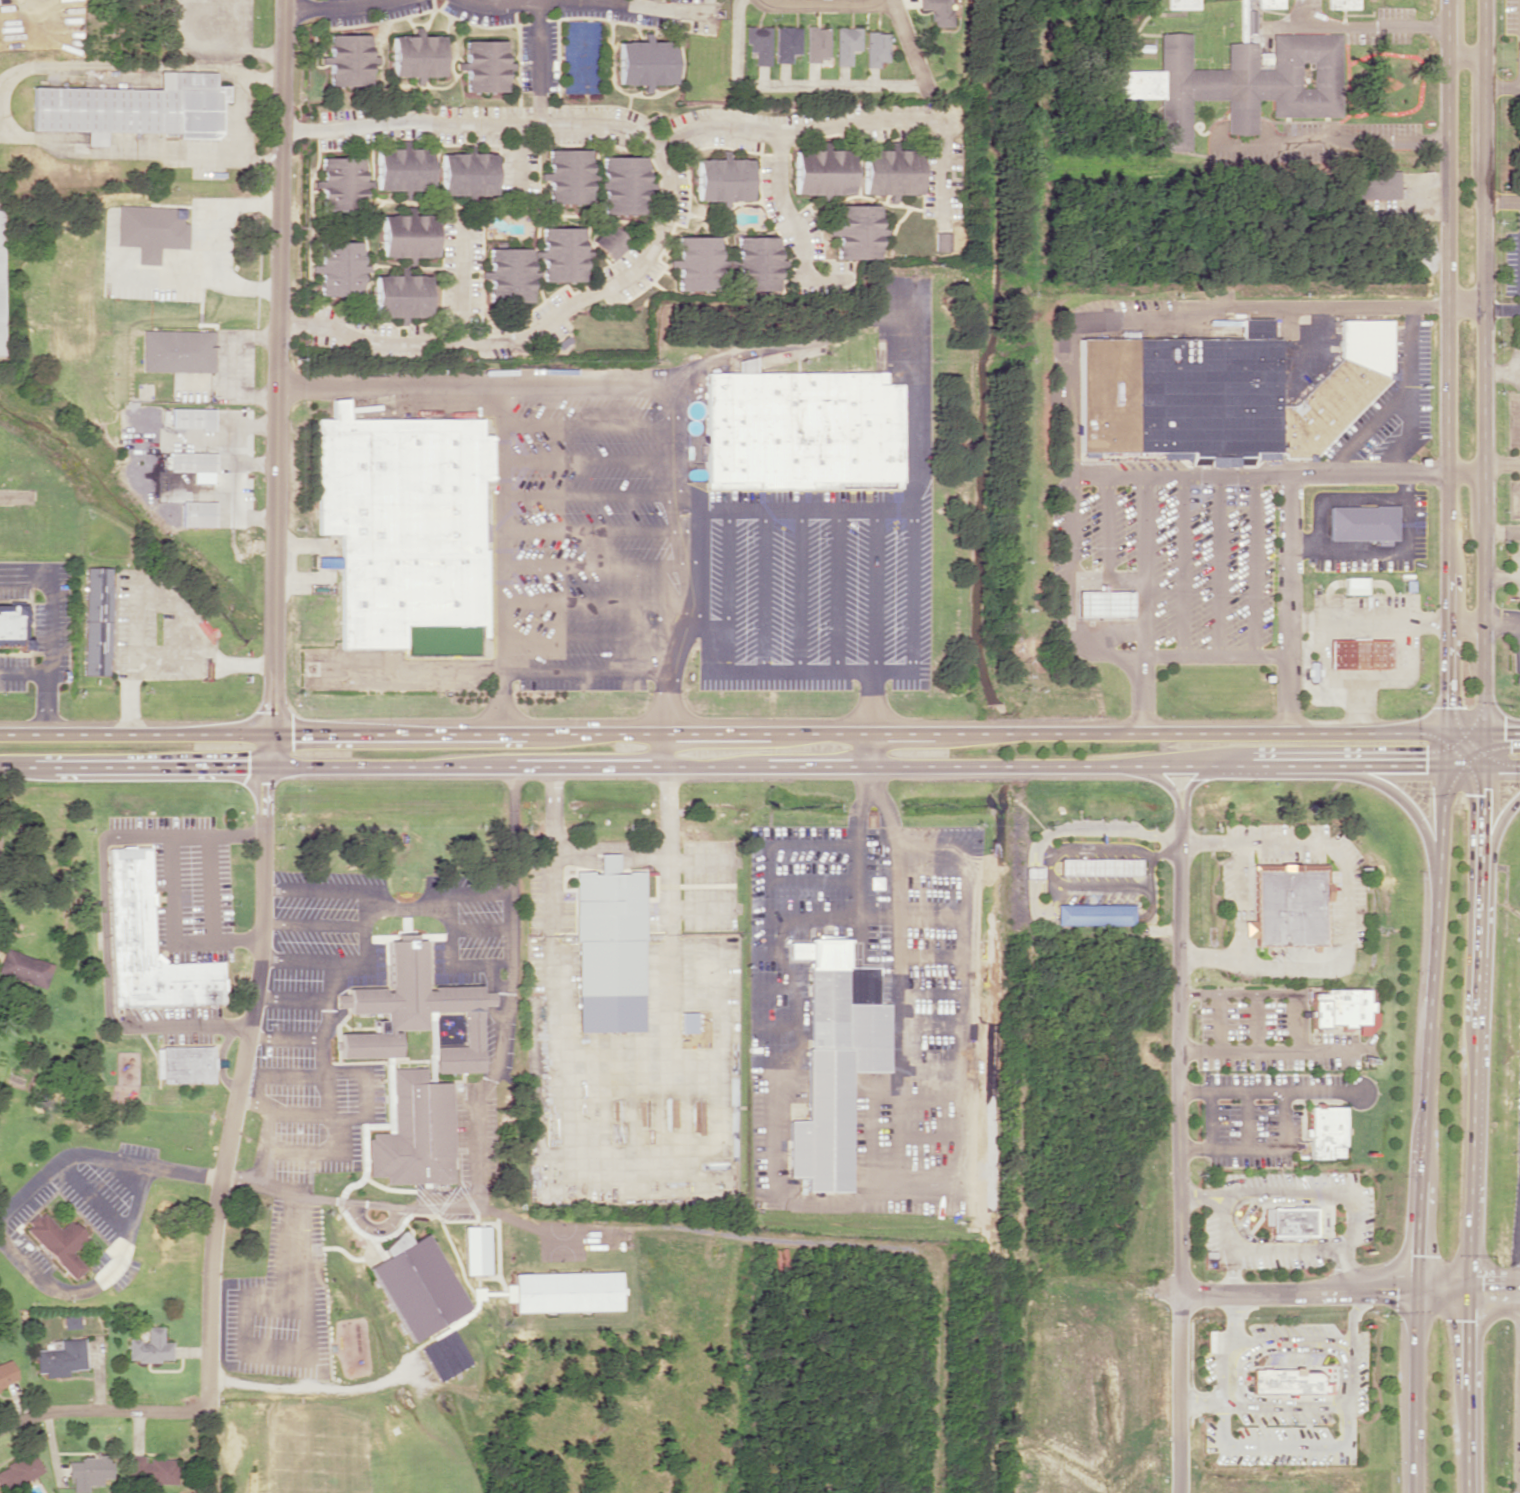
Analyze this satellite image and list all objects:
road: (888, 0)
road: (625, 1)
road: (823, 2)
road: (497, 3)
building: (1270, 4)
building: (1183, 6)
building: (1344, 6)
road: (332, 8)
building: (936, 11)
parking lot: (1511, 16)
building: (785, 42)
building: (758, 43)
building: (816, 44)
building: (845, 44)
building: (874, 47)
road: (908, 49)
road: (1464, 54)
building: (417, 55)
building: (349, 59)
road: (540, 63)
building: (645, 63)
building: (484, 65)
road: (786, 86)
road: (1502, 86)
building: (1235, 87)
building: (134, 107)
road: (849, 121)
parking lot: (1519, 157)
building: (403, 169)
building: (822, 171)
building: (890, 171)
building: (467, 173)
building: (568, 175)
building: (723, 178)
building: (341, 183)
building: (623, 184)
building: (1382, 184)
road: (1502, 200)
road: (668, 209)
road: (797, 229)
building: (150, 230)
building: (857, 231)
building: (408, 234)
building: (940, 241)
building: (610, 242)
building: (561, 253)
building: (758, 261)
parking lot: (1512, 262)
building: (697, 263)
building: (339, 268)
building: (508, 274)
road: (459, 276)
building: (3, 287)
building: (401, 295)
road: (1178, 307)
road: (1465, 308)
road: (1502, 309)
parking lot: (1518, 331)
park: (608, 332)
road: (803, 343)
building: (178, 350)
building: (745, 364)
road: (1446, 366)
road: (1484, 366)
road: (277, 383)
road: (486, 386)
road: (1410, 392)
building: (1216, 395)
building: (192, 417)
road: (599, 424)
road: (1369, 426)
building: (801, 428)
road: (599, 460)
building: (190, 461)
road: (1502, 463)
road: (1465, 471)
road: (1256, 472)
road: (598, 494)
road: (801, 509)
building: (197, 513)
building: (1360, 521)
building: (405, 526)
road: (598, 530)
building: (485, 531)
road: (1501, 533)
road: (1105, 544)
road: (695, 549)
parking lot: (693, 553)
parking lot: (1175, 556)
road: (501, 558)
road: (1217, 563)
road: (1253, 563)
road: (598, 564)
road: (1180, 564)
road: (727, 574)
building: (1354, 584)
road: (798, 590)
road: (835, 590)
road: (873, 590)
road: (761, 591)
road: (596, 599)
building: (1103, 602)
road: (1288, 602)
road: (1142, 603)
road: (909, 610)
building: (97, 619)
road: (1466, 621)
road: (1501, 622)
building: (12, 626)
road: (591, 635)
road: (1519, 645)
road: (1090, 653)
building: (1359, 653)
gas station: (1360, 653)
road: (586, 672)
road: (873, 702)
traffic signals: (268, 730)
road: (483, 731)
traffic signals: (1449, 732)
road: (1243, 733)
traffic signals: (1484, 733)
road: (873, 748)
road: (663, 749)
traffic signals: (1444, 764)
road: (611, 765)
road: (1371, 765)
traffic signals: (266, 766)
traffic signals: (1483, 766)
road: (1193, 779)
road: (1163, 782)
road: (1403, 801)
road: (1494, 835)
building: (1098, 865)
building: (1032, 871)
building: (1288, 902)
building: (1092, 913)
building: (148, 943)
building: (609, 947)
building: (25, 968)
road: (1235, 992)
building: (1338, 1006)
building: (414, 1011)
road: (1254, 1020)
road: (1292, 1020)
building: (686, 1021)
road: (1216, 1021)
road: (1178, 1049)
road: (1271, 1049)
building: (834, 1058)
building: (185, 1063)
road: (1267, 1092)
road: (1421, 1112)
road: (1474, 1112)
road: (1210, 1120)
road: (1245, 1120)
road: (229, 1128)
building: (1325, 1131)
building: (414, 1132)
road: (1257, 1148)
parking lot: (1516, 1159)
road: (1188, 1192)
road: (1323, 1192)
road: (1219, 1200)
building: (1289, 1221)
building: (58, 1241)
road: (1249, 1247)
building: (476, 1248)
road: (1332, 1268)
road: (1228, 1269)
road: (1467, 1278)
traffic signals: (1470, 1278)
building: (415, 1284)
traffic signals: (1415, 1288)
road: (1297, 1289)
building: (563, 1291)
road: (1466, 1301)
traffic signals: (1469, 1302)
building: (71, 1321)
road: (1258, 1339)
road: (1259, 1342)
building: (150, 1346)
road: (1316, 1346)
building: (443, 1354)
building: (60, 1357)
road: (1219, 1369)
road: (1236, 1372)
building: (1287, 1381)
road: (1177, 1391)
road: (1198, 1403)
road: (1344, 1404)
road: (102, 1409)
road: (1283, 1444)
building: (19, 1470)
building: (152, 1470)
building: (88, 1471)

